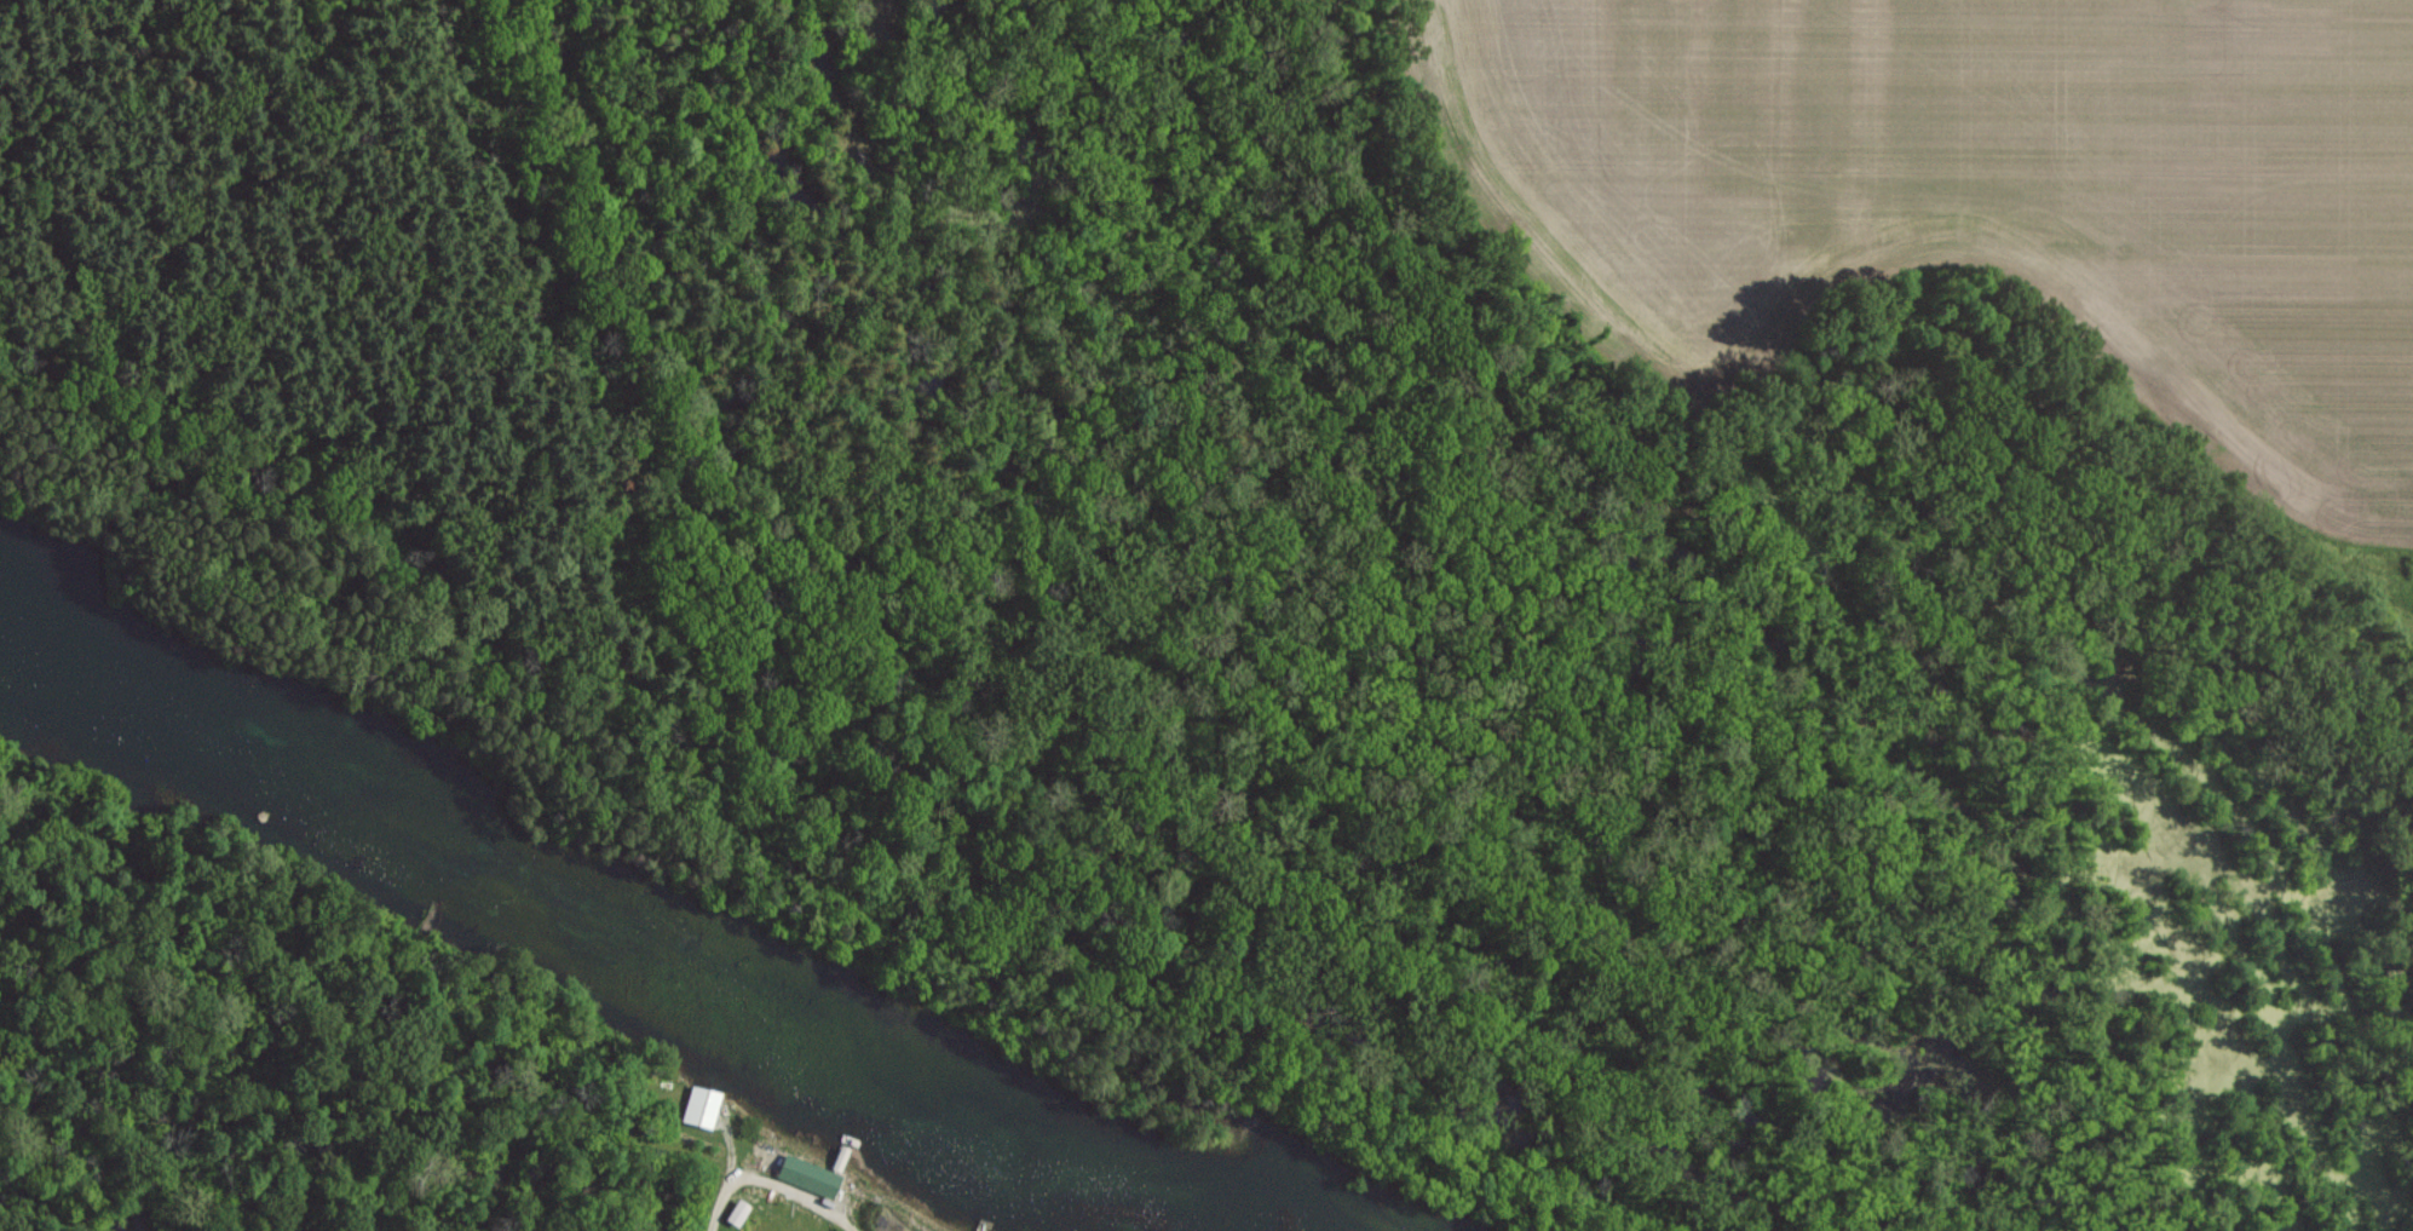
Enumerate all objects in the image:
building: (702, 1105)
building: (802, 1168)
road: (773, 1181)

